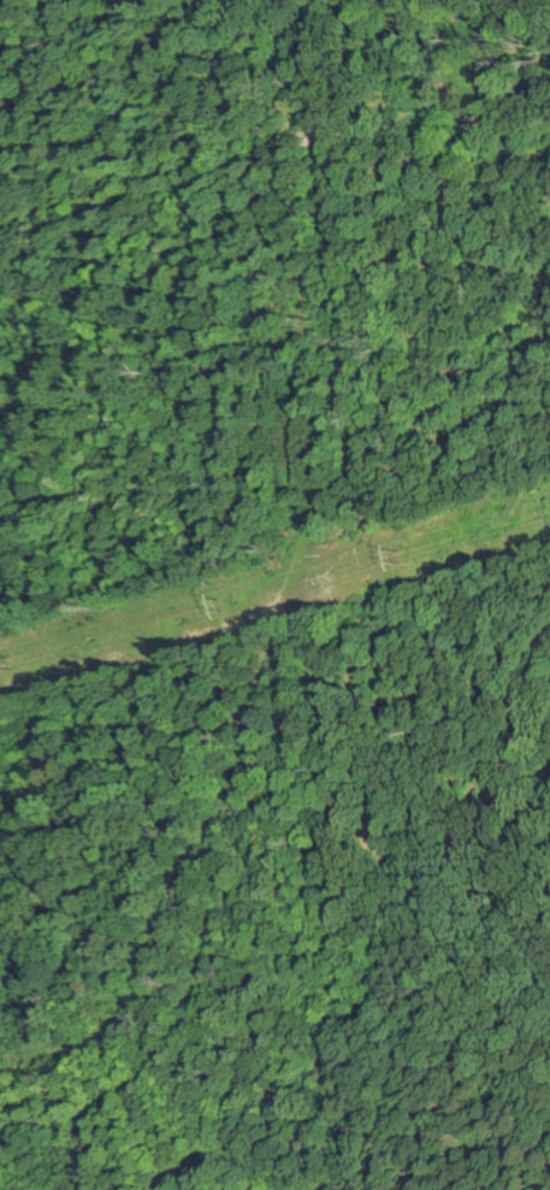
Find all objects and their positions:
road: (288, 546)

